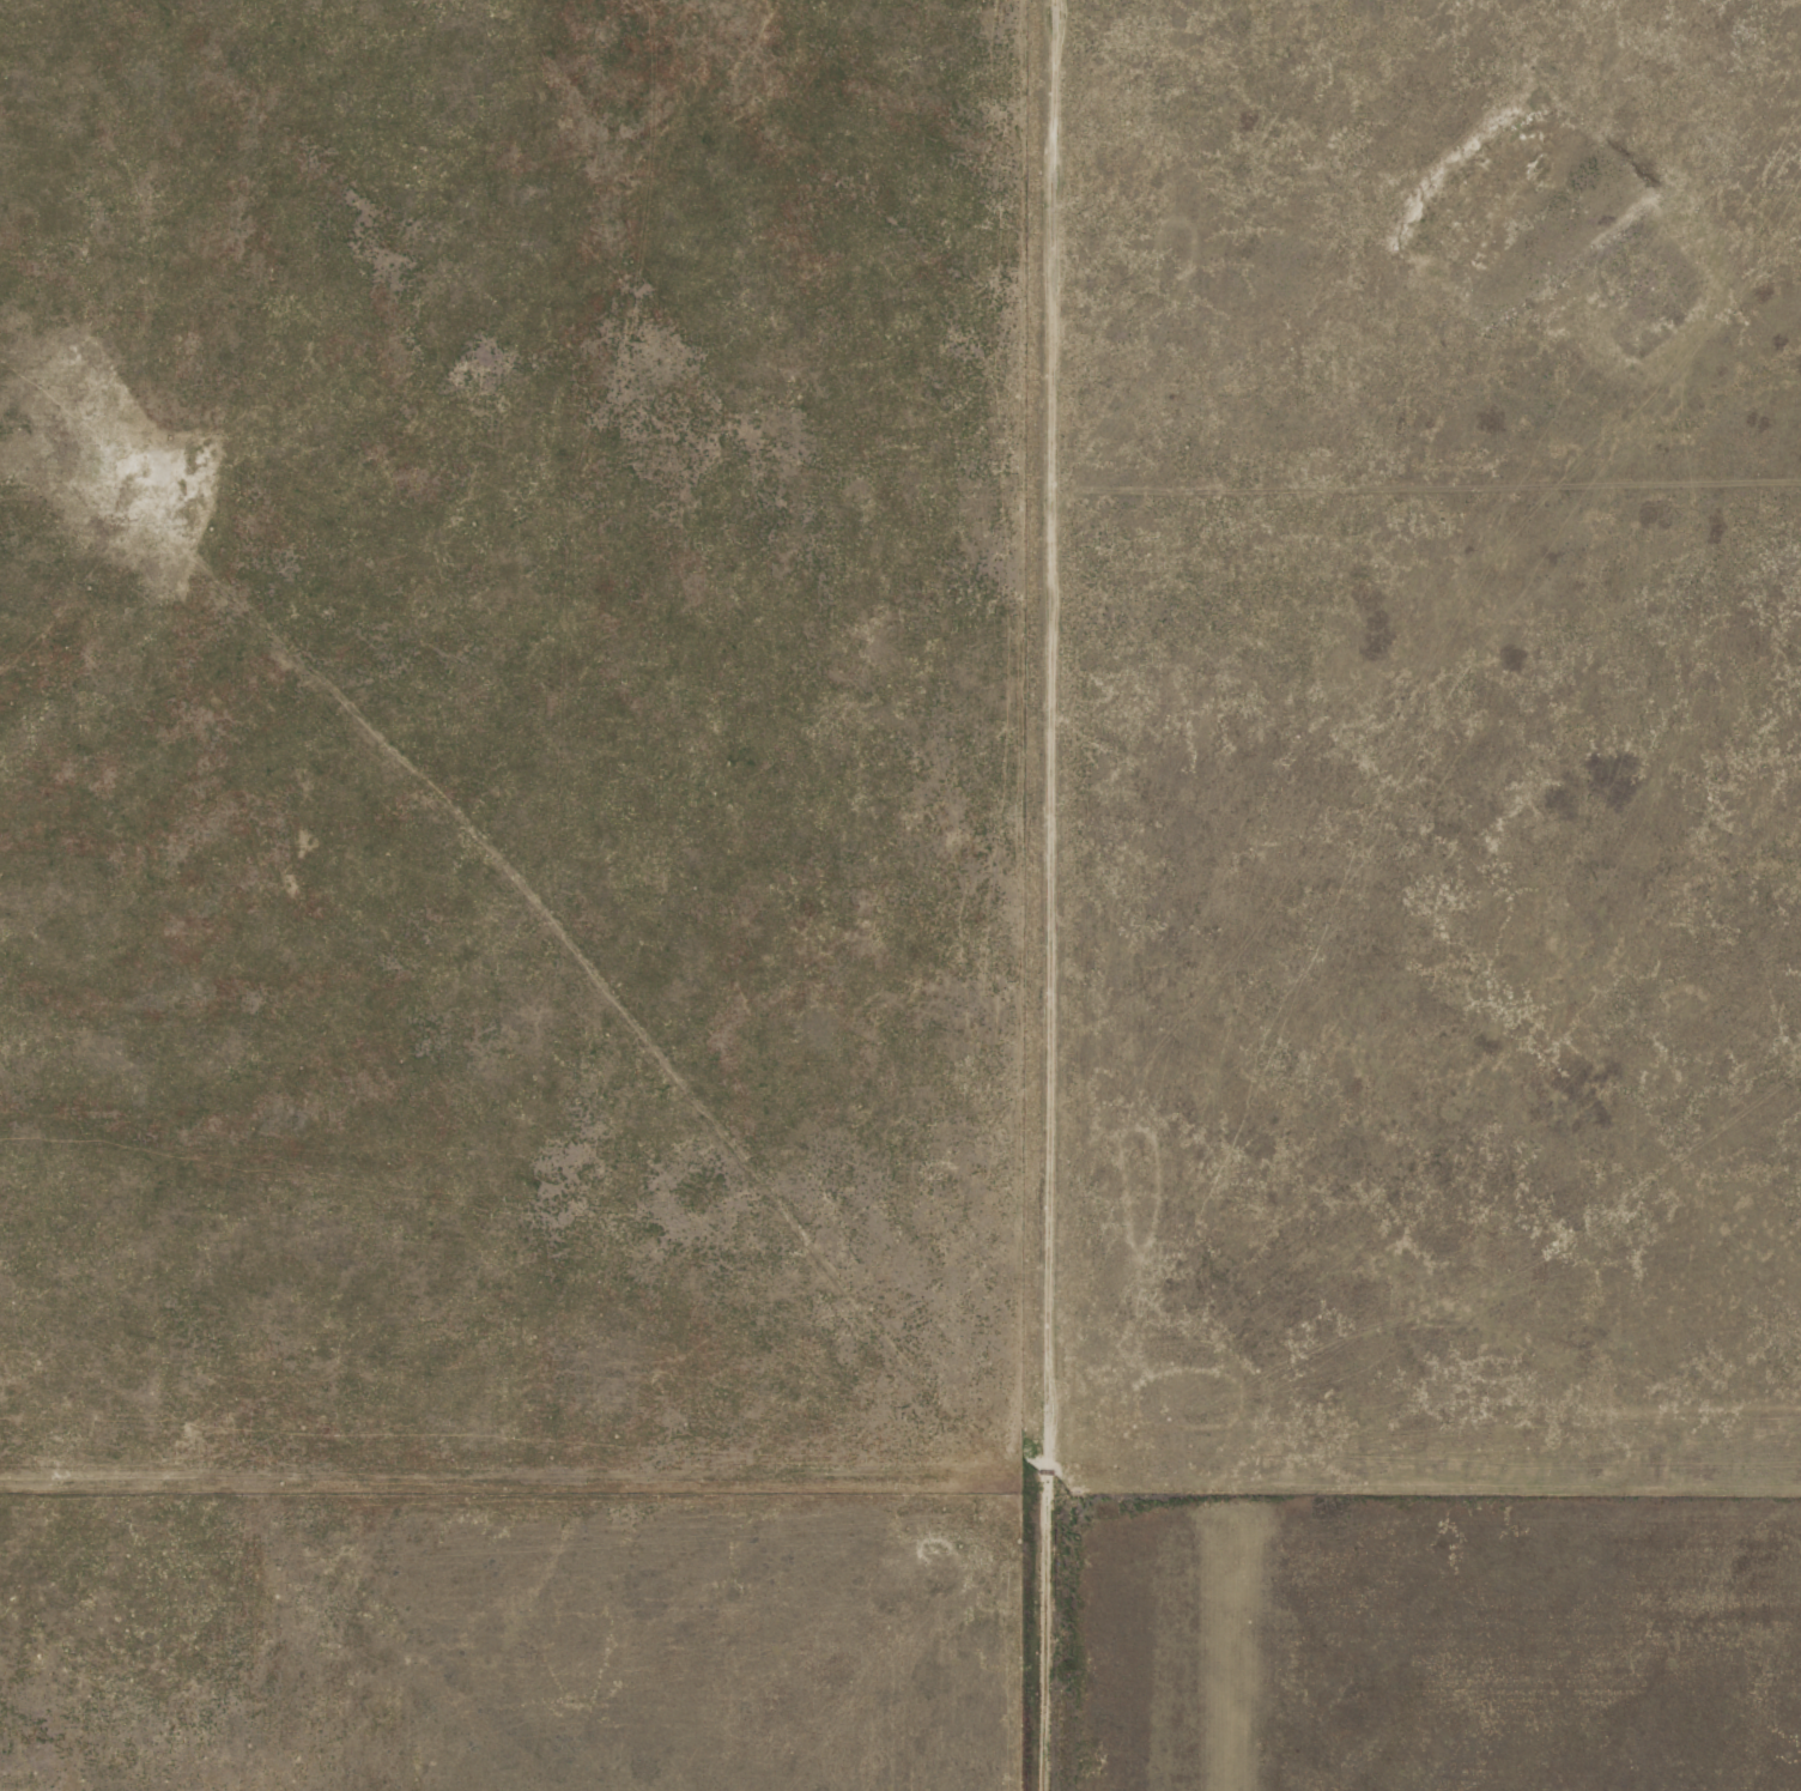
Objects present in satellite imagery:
road: (1055, 895)
road: (523, 1486)
airport: (1429, 1641)
airport runway: (1238, 1660)

